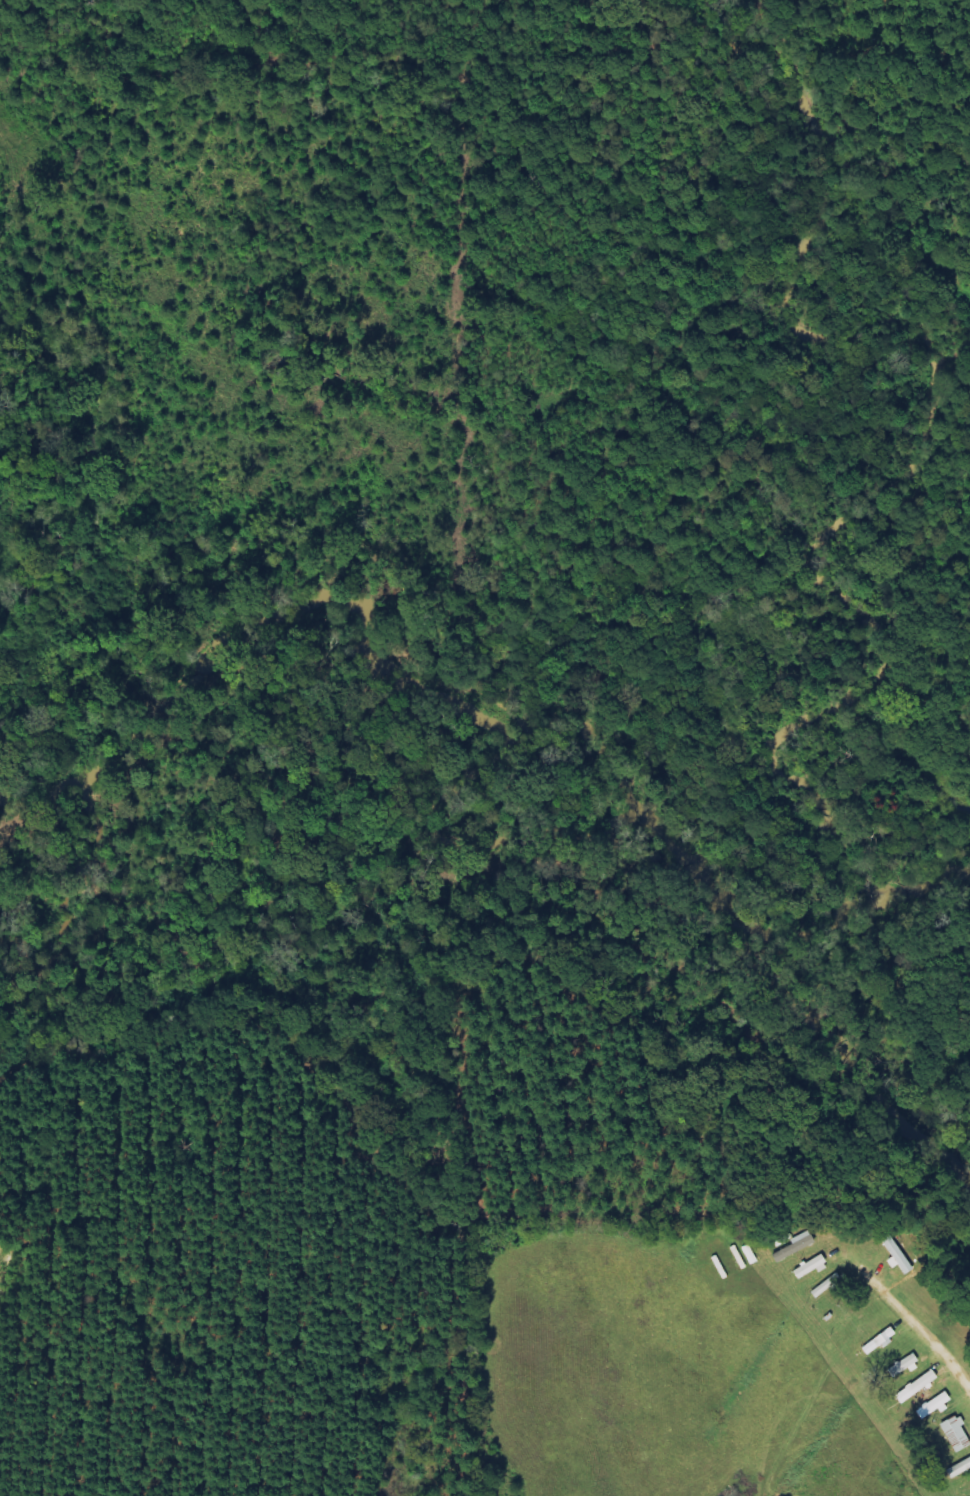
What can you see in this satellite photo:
building: (794, 1245)
building: (807, 1266)
road: (906, 1314)
building: (901, 1364)
building: (915, 1385)
building: (931, 1405)
building: (954, 1433)

